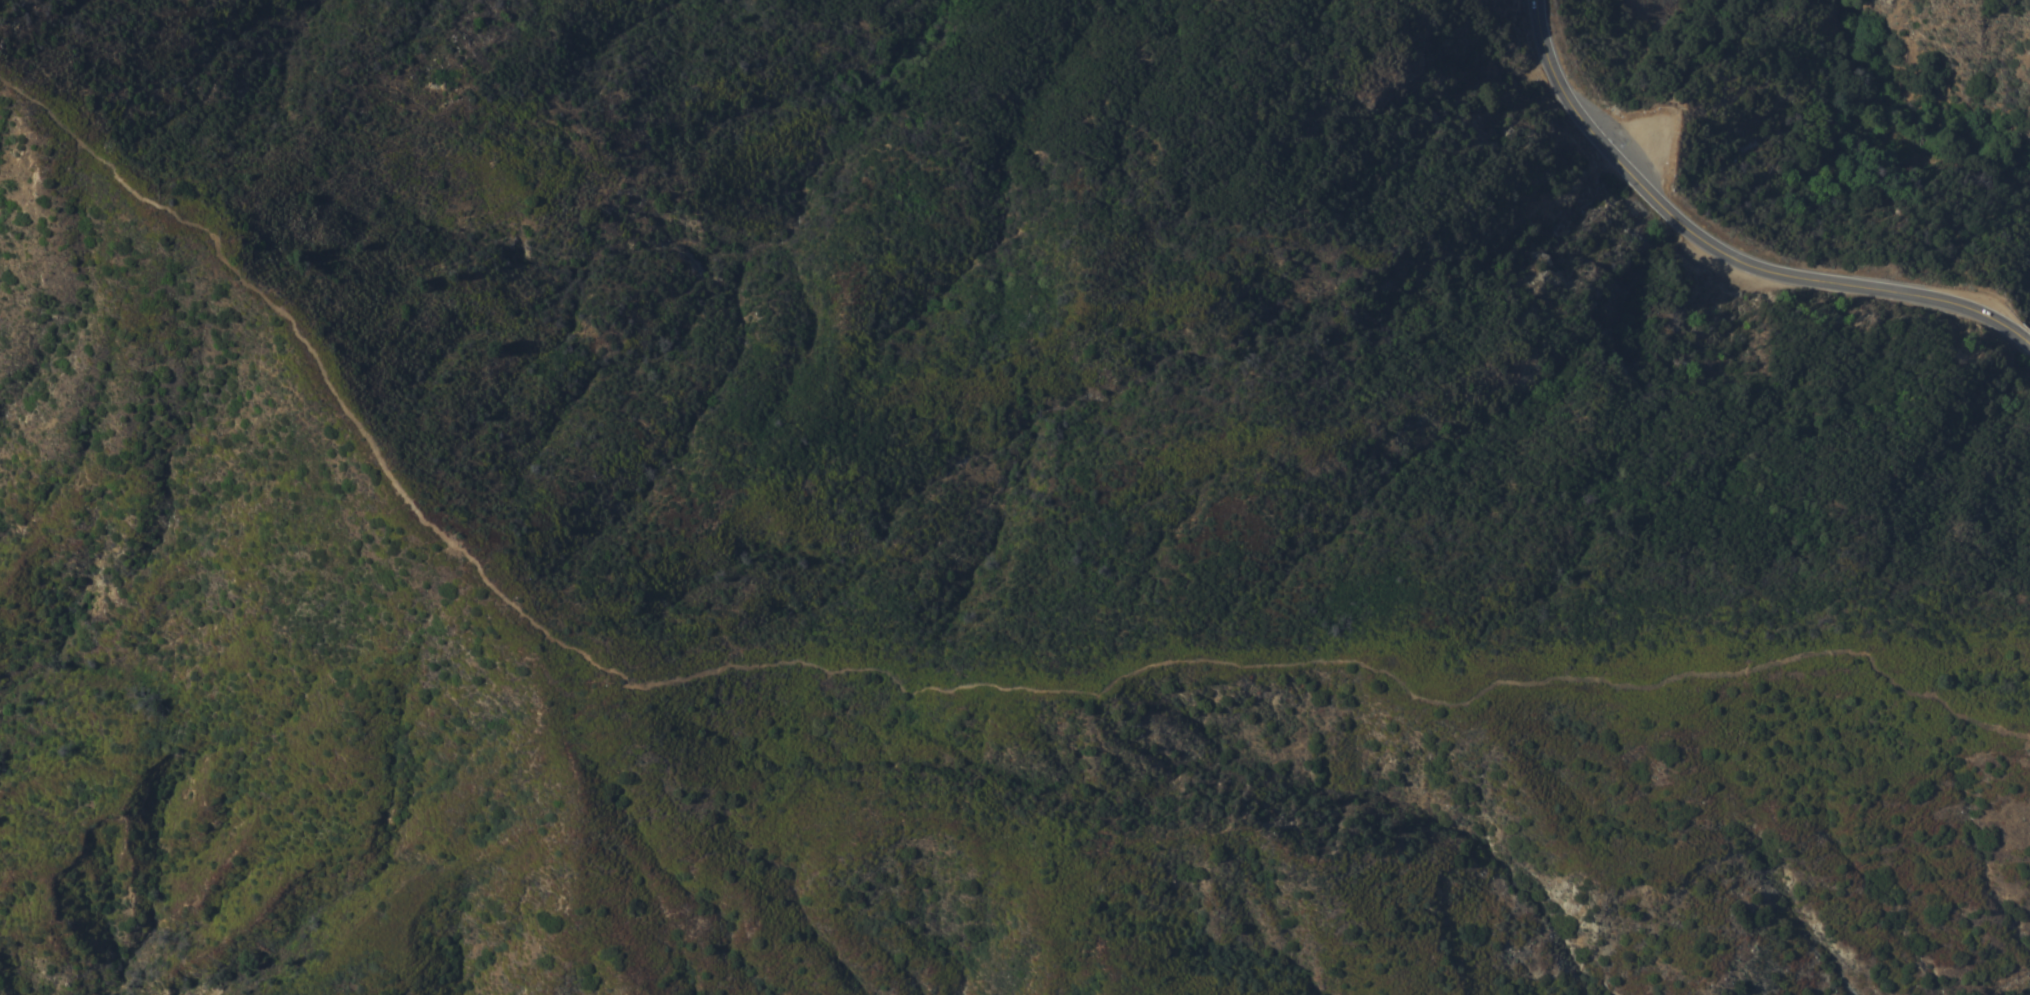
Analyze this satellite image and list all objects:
road: (1726, 244)

